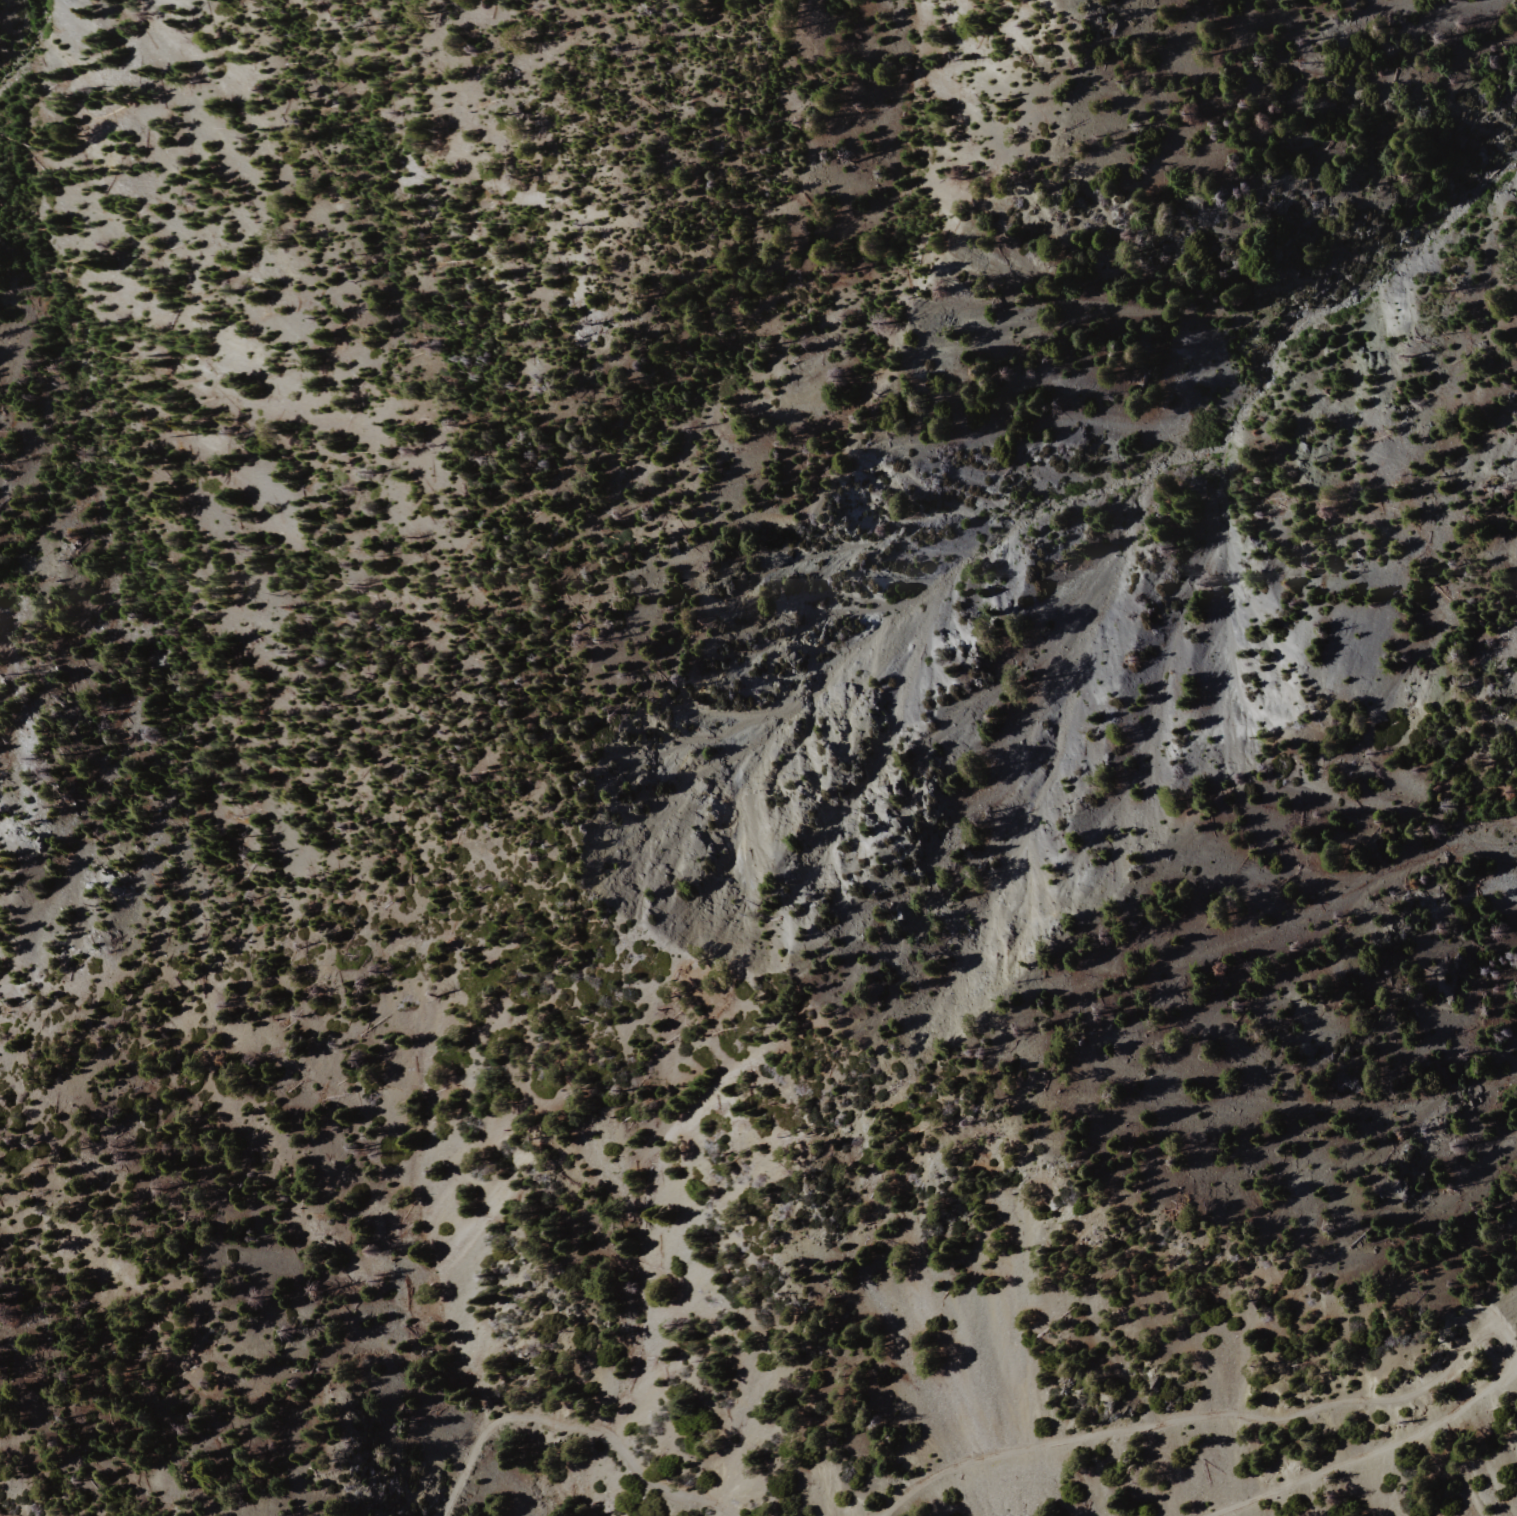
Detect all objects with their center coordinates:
road: (1378, 1402)
road: (571, 1427)

